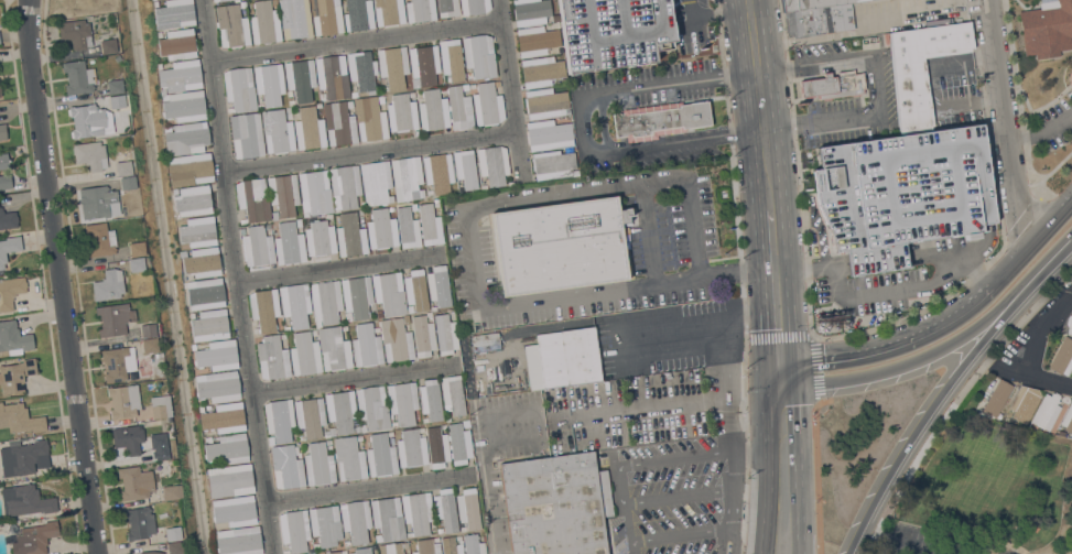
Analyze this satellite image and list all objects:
building: (214, 0)
building: (221, 0)
building: (811, 3)
building: (474, 6)
building: (447, 8)
building: (420, 10)
road: (712, 11)
building: (389, 12)
building: (531, 12)
building: (174, 13)
building: (358, 14)
building: (326, 15)
building: (295, 18)
building: (817, 20)
building: (264, 22)
building: (231, 26)
building: (1047, 26)
building: (613, 32)
parking lot: (613, 32)
building: (75, 34)
building: (535, 41)
road: (359, 42)
building: (177, 44)
building: (108, 45)
building: (479, 55)
building: (452, 58)
building: (424, 63)
building: (393, 66)
building: (921, 68)
building: (361, 69)
building: (540, 70)
building: (311, 72)
building: (180, 76)
building: (332, 76)
building: (78, 77)
building: (297, 79)
building: (258, 80)
building: (272, 83)
building: (833, 85)
road: (876, 85)
building: (115, 86)
building: (239, 88)
building: (0, 91)
road: (515, 91)
building: (0, 95)
building: (117, 101)
building: (545, 102)
building: (487, 104)
road: (758, 104)
building: (184, 106)
building: (459, 108)
building: (433, 110)
building: (401, 112)
building: (369, 118)
building: (660, 119)
building: (89, 120)
building: (338, 122)
road: (582, 124)
road: (1005, 124)
building: (308, 128)
road: (1041, 130)
building: (2, 131)
building: (266, 131)
building: (279, 131)
building: (246, 134)
building: (548, 134)
building: (186, 138)
road: (371, 152)
building: (90, 154)
building: (3, 160)
building: (552, 163)
building: (492, 164)
building: (123, 167)
building: (190, 169)
building: (465, 169)
building: (438, 172)
building: (408, 176)
building: (4, 181)
building: (128, 182)
building: (376, 182)
building: (345, 186)
building: (314, 192)
building: (283, 193)
road: (574, 193)
building: (902, 193)
building: (192, 199)
building: (253, 199)
building: (99, 202)
building: (8, 219)
building: (197, 224)
building: (429, 225)
road: (1051, 225)
road: (693, 226)
building: (408, 227)
building: (381, 229)
road: (648, 232)
building: (350, 236)
building: (198, 237)
building: (320, 237)
road: (777, 238)
building: (98, 239)
road: (822, 239)
building: (289, 243)
building: (560, 245)
building: (257, 246)
building: (9, 248)
building: (137, 249)
building: (184, 252)
road: (472, 258)
road: (1052, 258)
building: (202, 262)
building: (136, 264)
road: (772, 267)
road: (340, 272)
road: (62, 276)
road: (234, 278)
building: (108, 285)
building: (438, 285)
road: (619, 286)
road: (760, 286)
building: (415, 290)
building: (10, 291)
road: (887, 291)
building: (389, 293)
building: (205, 294)
building: (357, 295)
road: (978, 300)
building: (325, 302)
building: (294, 303)
building: (264, 308)
road: (916, 311)
road: (789, 315)
building: (113, 318)
building: (209, 325)
building: (1069, 325)
road: (1043, 328)
building: (150, 329)
road: (696, 332)
traffic signals: (764, 333)
building: (445, 334)
building: (423, 335)
road: (810, 336)
road: (745, 337)
building: (13, 338)
building: (396, 339)
building: (484, 341)
building: (150, 345)
building: (366, 346)
building: (334, 348)
building: (304, 354)
building: (217, 355)
road: (856, 356)
building: (1062, 357)
building: (272, 358)
building: (562, 358)
road: (910, 360)
traffic signals: (820, 361)
building: (118, 362)
road: (779, 365)
building: (1071, 371)
building: (15, 374)
road: (793, 374)
road: (765, 376)
road: (357, 378)
road: (1044, 379)
building: (217, 385)
building: (453, 393)
building: (996, 398)
building: (430, 399)
road: (954, 400)
building: (123, 401)
building: (402, 402)
building: (1021, 402)
traffic signals: (795, 405)
building: (160, 406)
building: (372, 406)
road: (929, 409)
road: (535, 410)
road: (651, 410)
building: (1046, 411)
building: (342, 412)
building: (310, 416)
building: (223, 417)
building: (19, 419)
building: (279, 419)
building: (1068, 420)
building: (465, 422)
building: (325, 433)
building: (128, 438)
building: (270, 439)
road: (733, 441)
building: (458, 443)
building: (161, 446)
building: (436, 446)
building: (227, 448)
building: (411, 448)
road: (749, 454)
building: (380, 456)
building: (23, 457)
road: (679, 457)
building: (348, 458)
building: (318, 464)
building: (286, 467)
road: (798, 468)
road: (766, 470)
road: (815, 476)
building: (229, 479)
building: (134, 482)
road: (375, 489)
building: (172, 491)
park: (986, 492)
road: (486, 497)
road: (680, 498)
building: (26, 500)
building: (556, 504)
building: (468, 508)
building: (445, 509)
building: (234, 510)
road: (628, 510)
building: (418, 511)
building: (388, 518)
building: (356, 520)
building: (139, 522)
building: (325, 524)
building: (294, 530)
road: (873, 530)
building: (173, 533)
building: (34, 537)
road: (682, 537)
road: (905, 540)
building: (239, 541)
building: (404, 544)
building: (474, 544)
building: (451, 545)
building: (426, 546)
building: (177, 547)
building: (390, 548)
building: (362, 551)
building: (152, 552)
building: (331, 552)
road: (1007, 553)

